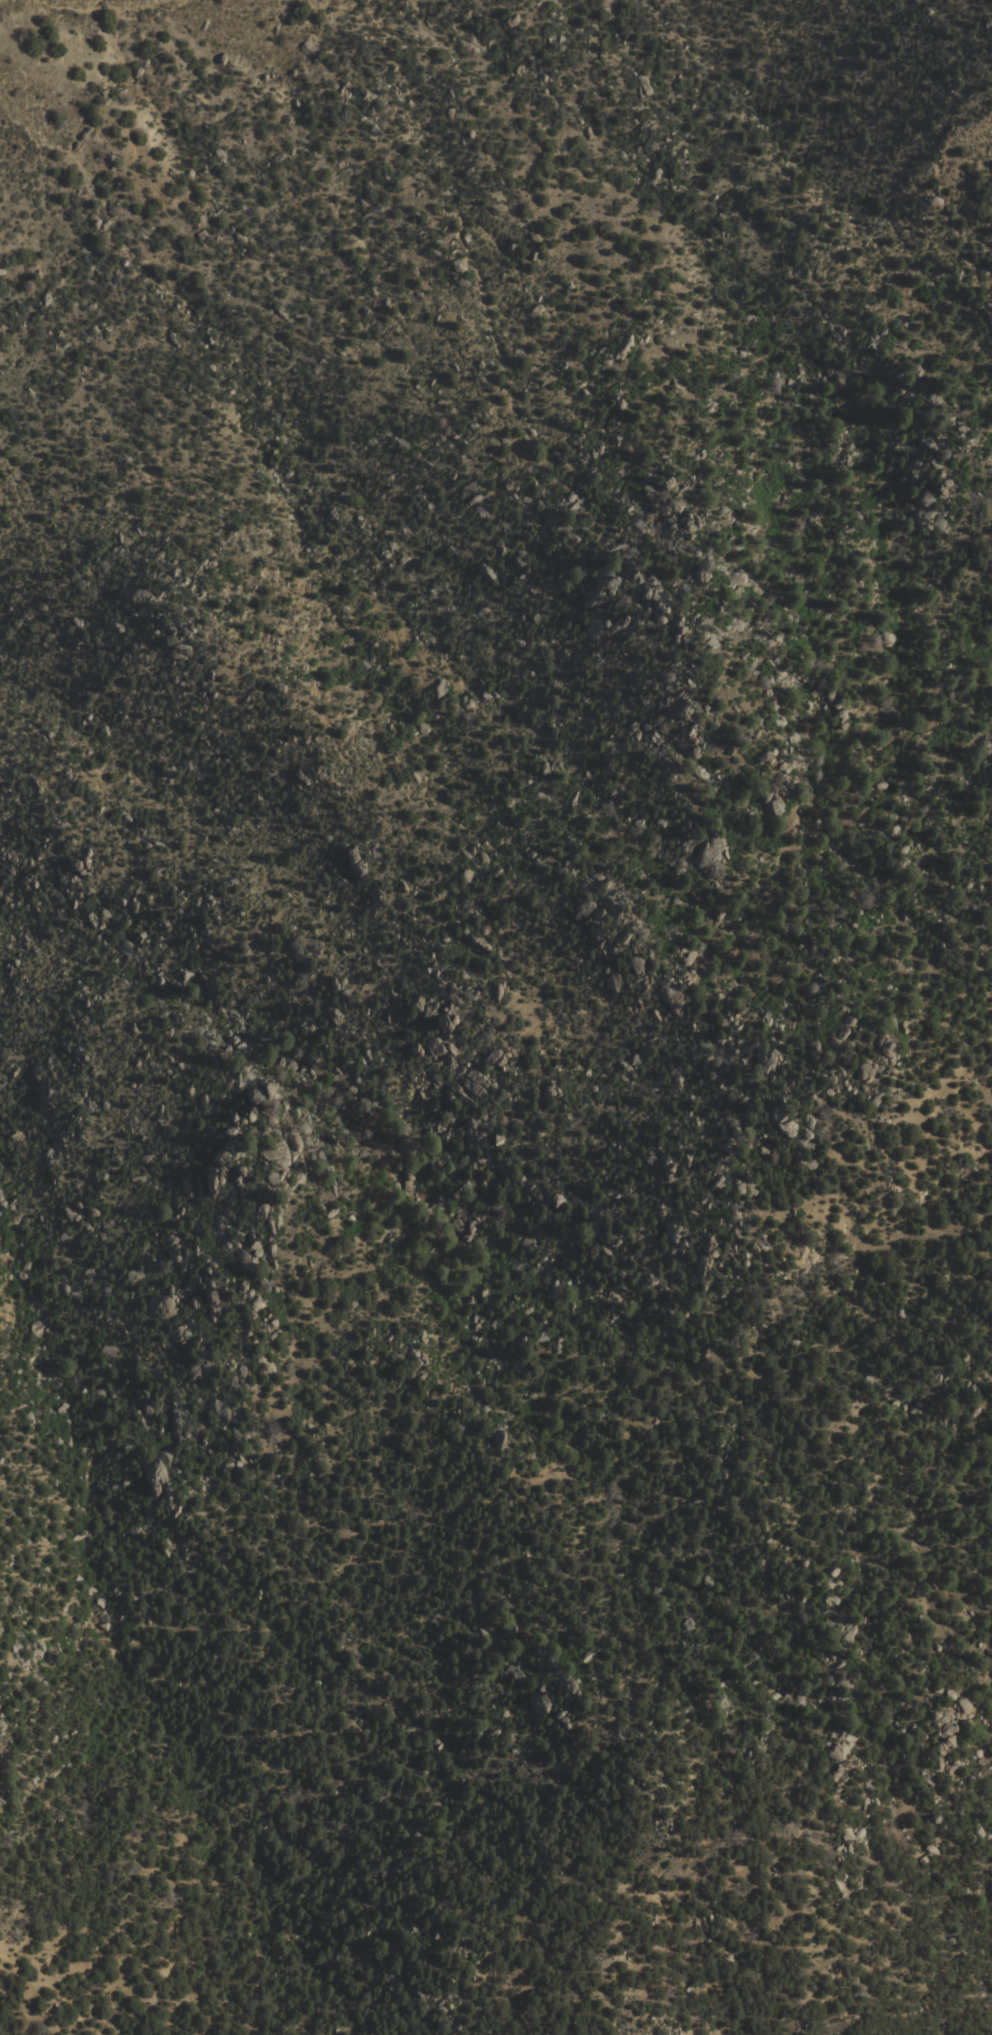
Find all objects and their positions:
road: (62, 7)
road: (735, 1846)
road: (61, 1998)
road: (139, 2004)

